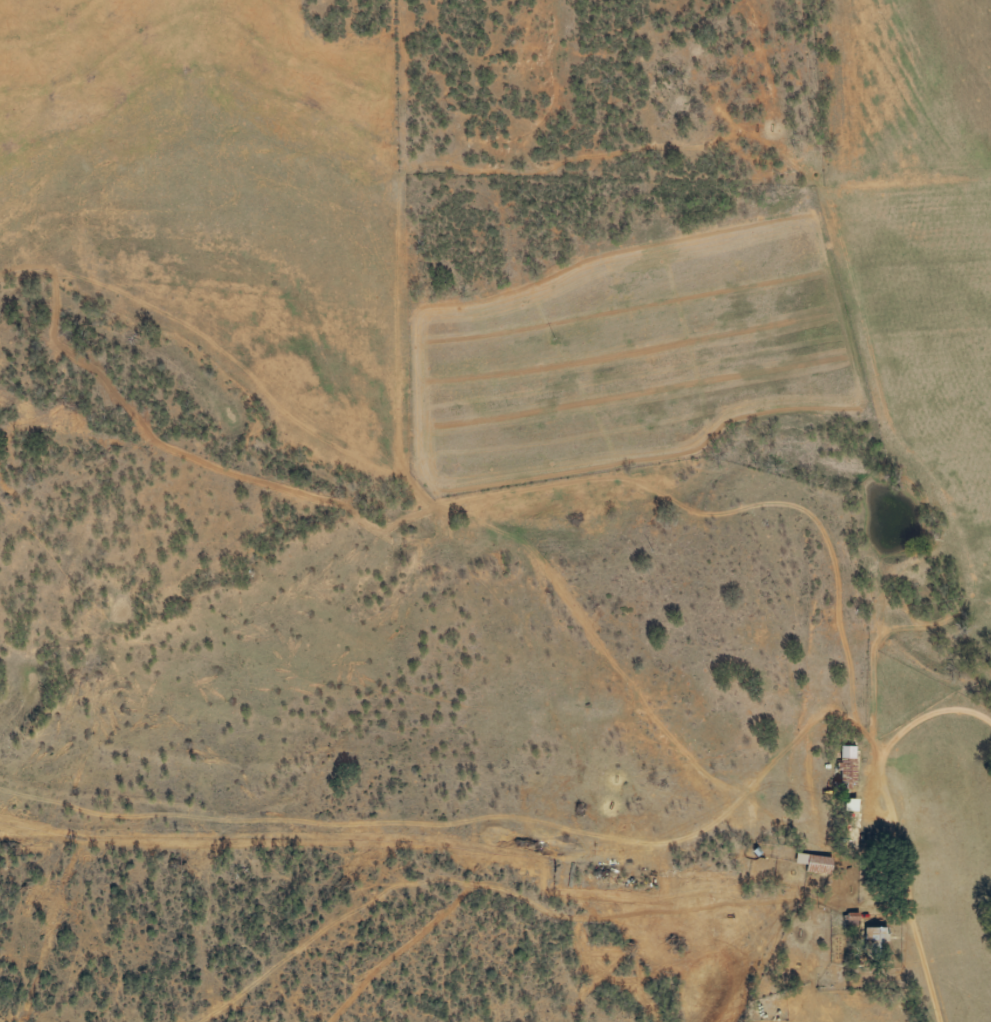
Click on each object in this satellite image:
building: (850, 767)
road: (888, 792)
building: (816, 863)
building: (877, 940)

